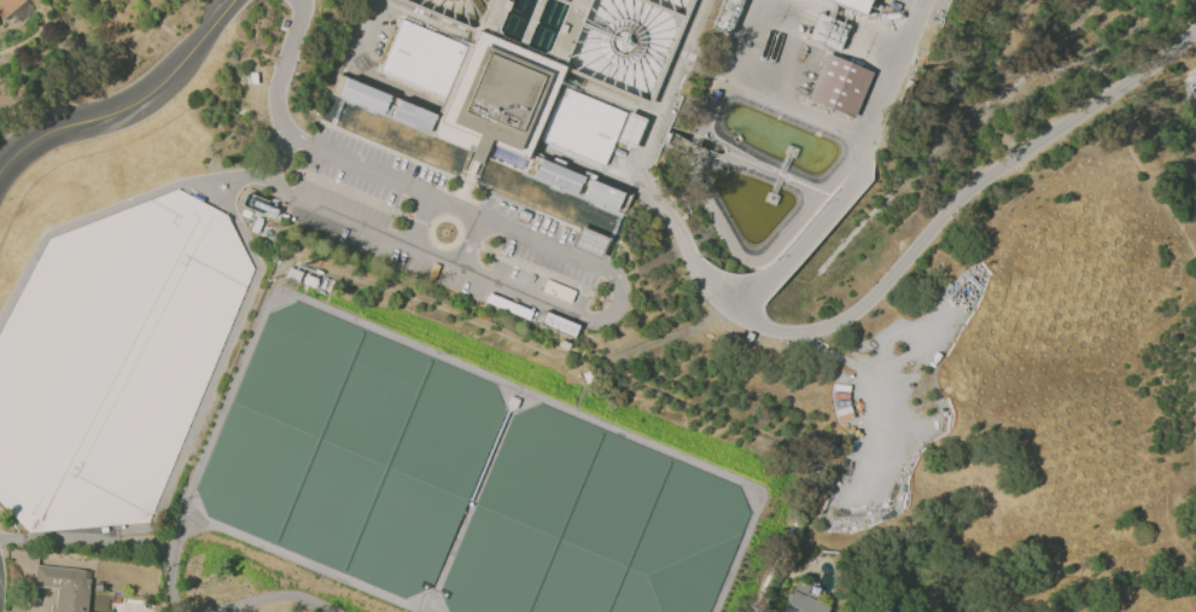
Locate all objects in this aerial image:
building: (852, 5)
building: (8, 6)
building: (728, 14)
road: (742, 27)
road: (372, 31)
building: (825, 33)
building: (422, 58)
road: (285, 66)
road: (269, 71)
building: (252, 77)
building: (839, 84)
road: (666, 89)
building: (498, 98)
road: (130, 107)
building: (591, 126)
road: (856, 130)
building: (568, 196)
road: (456, 206)
road: (111, 208)
road: (810, 232)
building: (589, 241)
road: (904, 261)
road: (602, 317)
building: (68, 470)
road: (76, 537)
building: (64, 587)
building: (803, 601)

